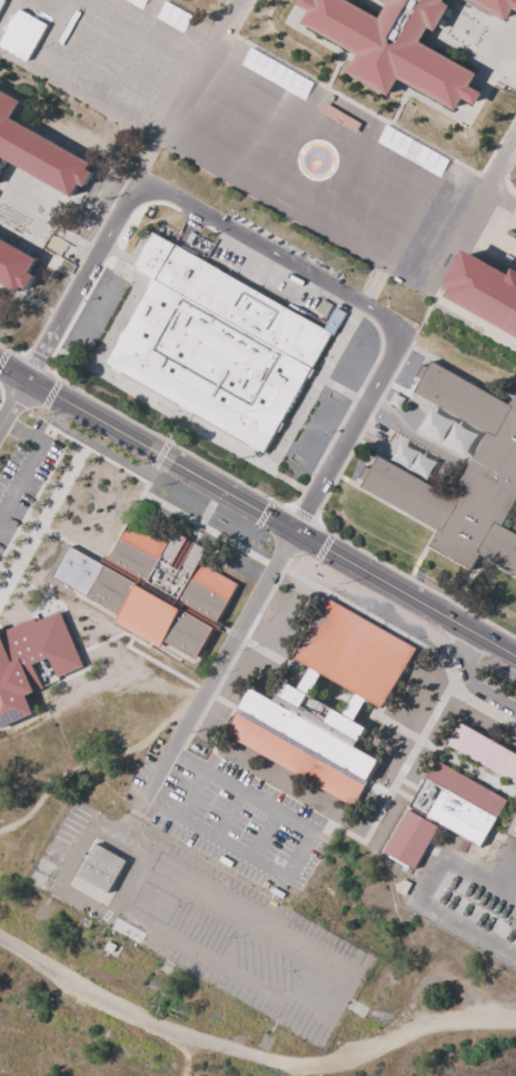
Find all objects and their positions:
building: (1, 3)
building: (499, 7)
building: (395, 45)
road: (206, 67)
building: (277, 73)
road: (294, 105)
building: (411, 151)
building: (39, 155)
road: (496, 178)
road: (503, 198)
road: (271, 253)
building: (486, 290)
building: (219, 345)
road: (13, 406)
street lamp: (339, 434)
building: (449, 434)
road: (30, 462)
building: (416, 462)
building: (493, 468)
road: (258, 507)
street lamp: (376, 560)
street lamp: (318, 561)
building: (515, 579)
building: (153, 592)
building: (32, 663)
building: (336, 684)
road: (214, 685)
building: (484, 751)
building: (291, 758)
building: (459, 804)
building: (514, 835)
road: (9, 840)
building: (411, 840)
building: (102, 869)
road: (236, 971)
road: (248, 1058)

